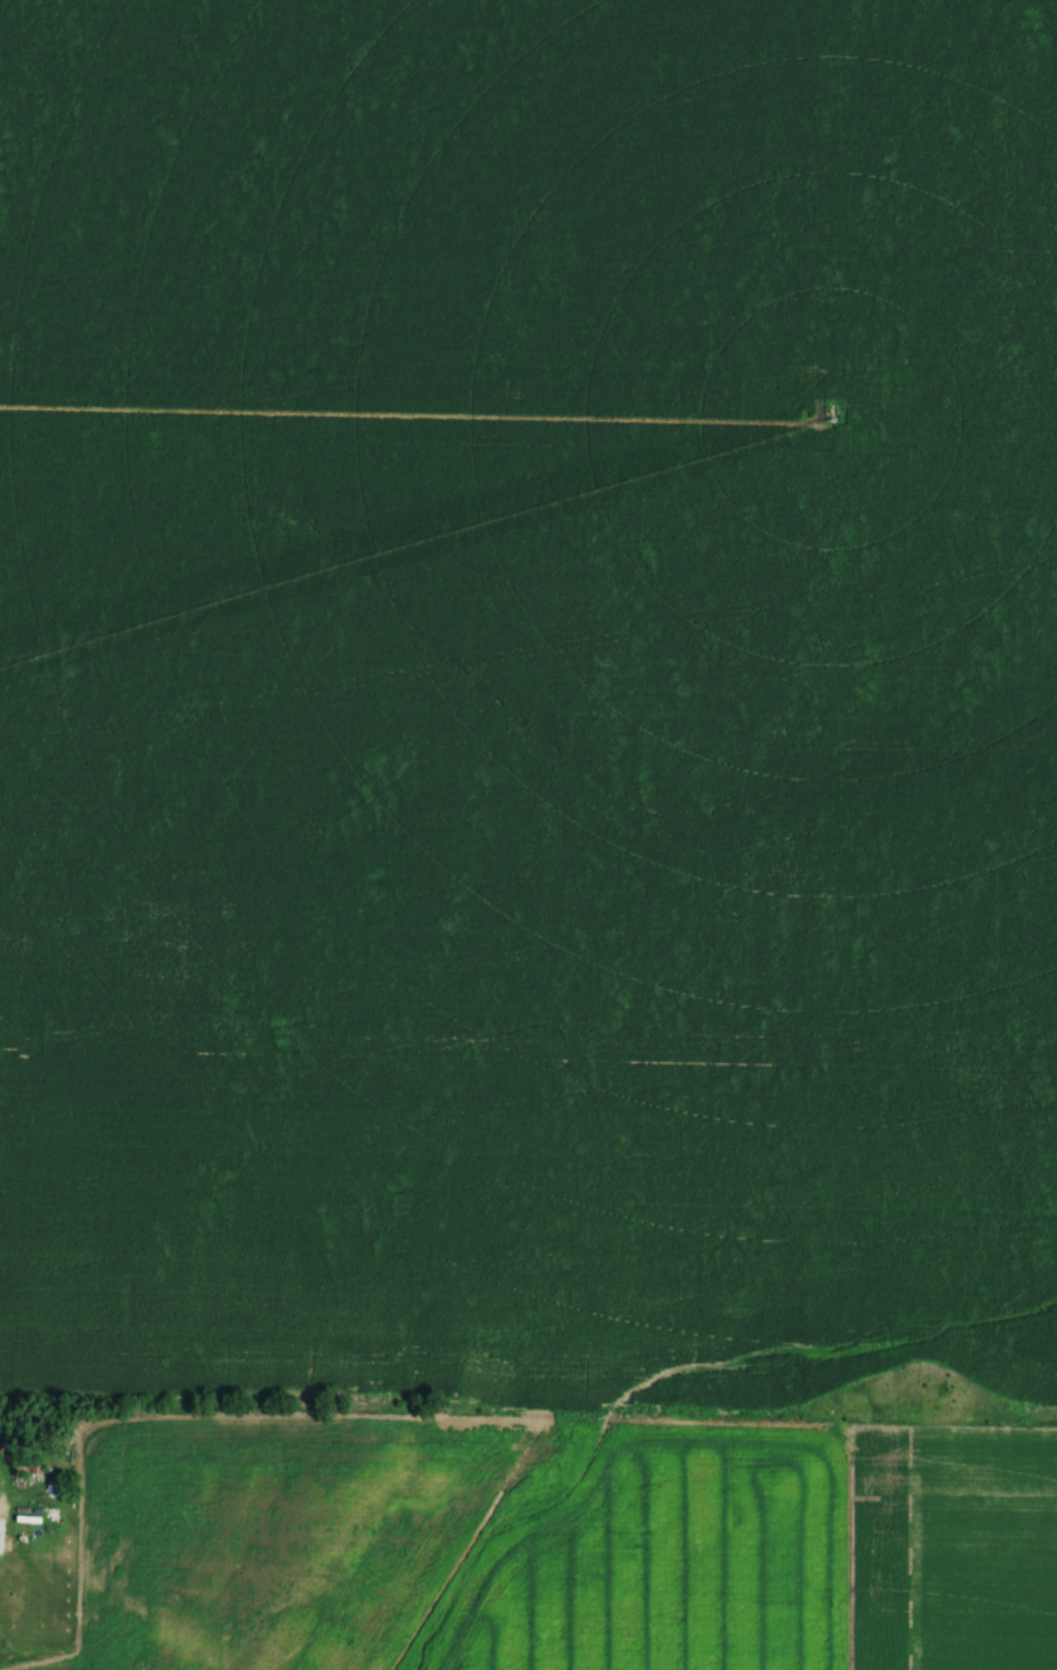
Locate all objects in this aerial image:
building: (144, 1510)
building: (145, 1580)

